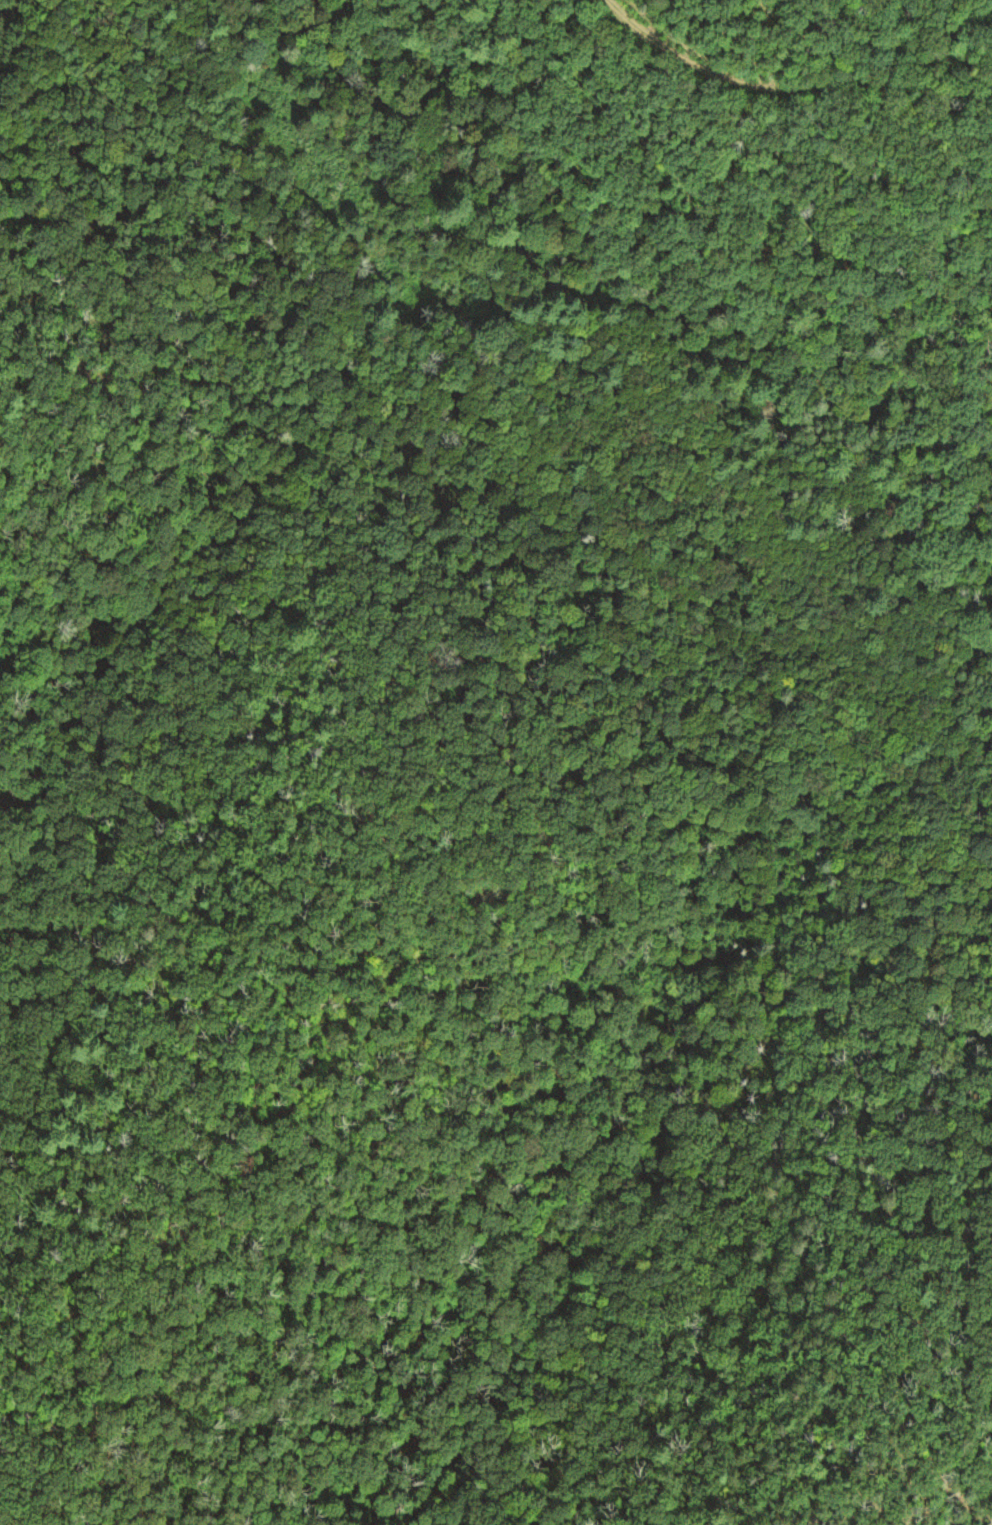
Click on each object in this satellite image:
road: (787, 85)

